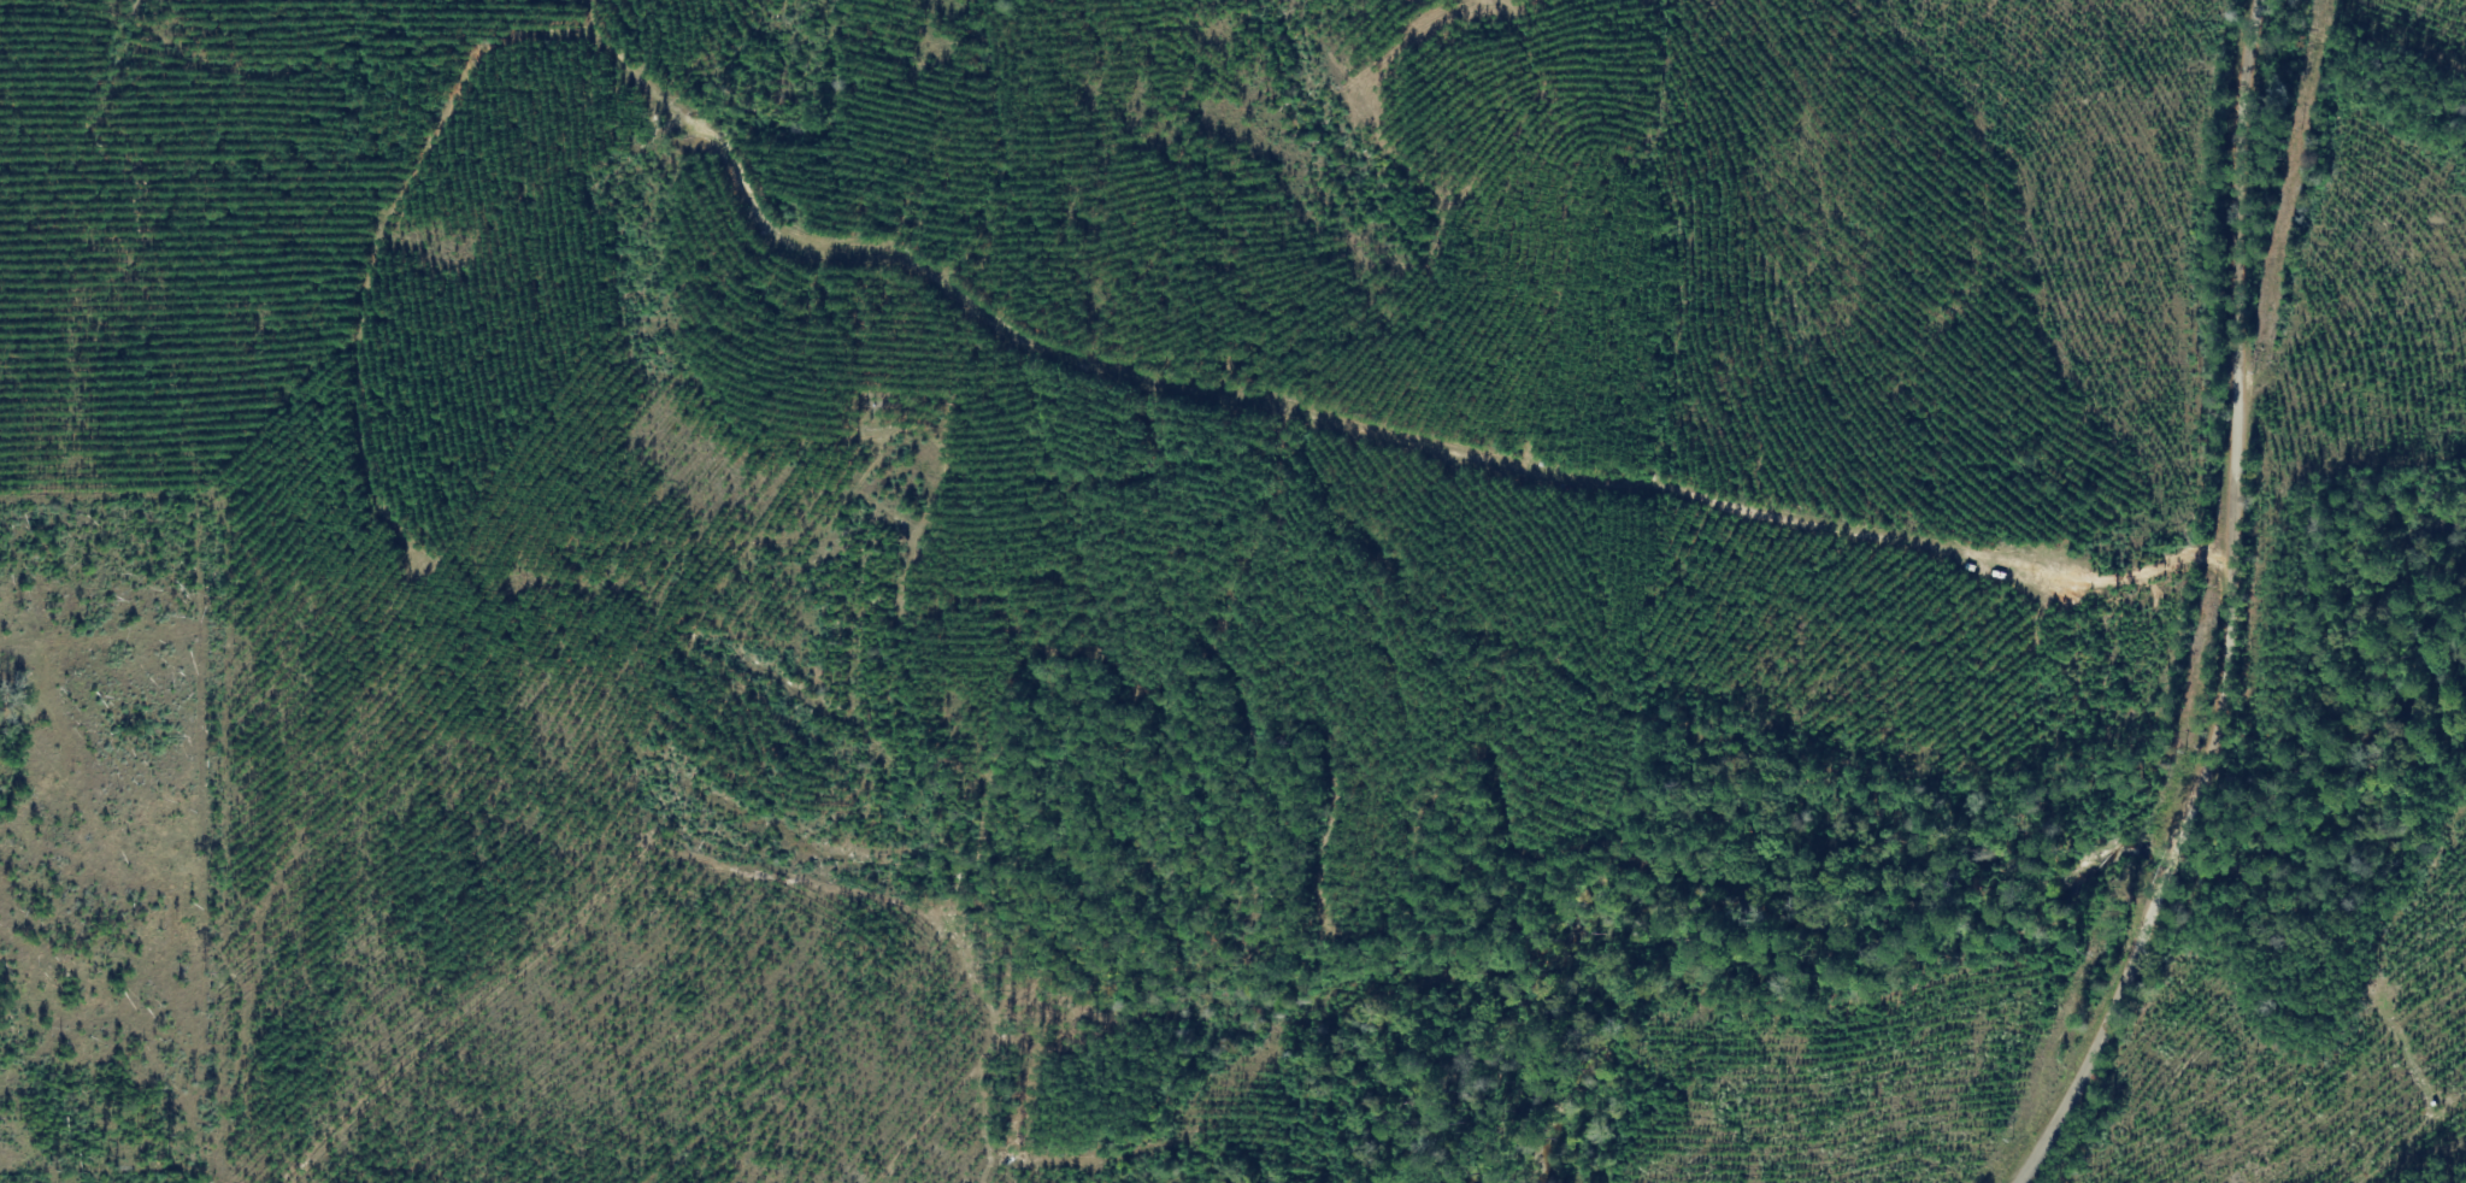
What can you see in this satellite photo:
road: (1112, 442)
road: (2227, 610)

